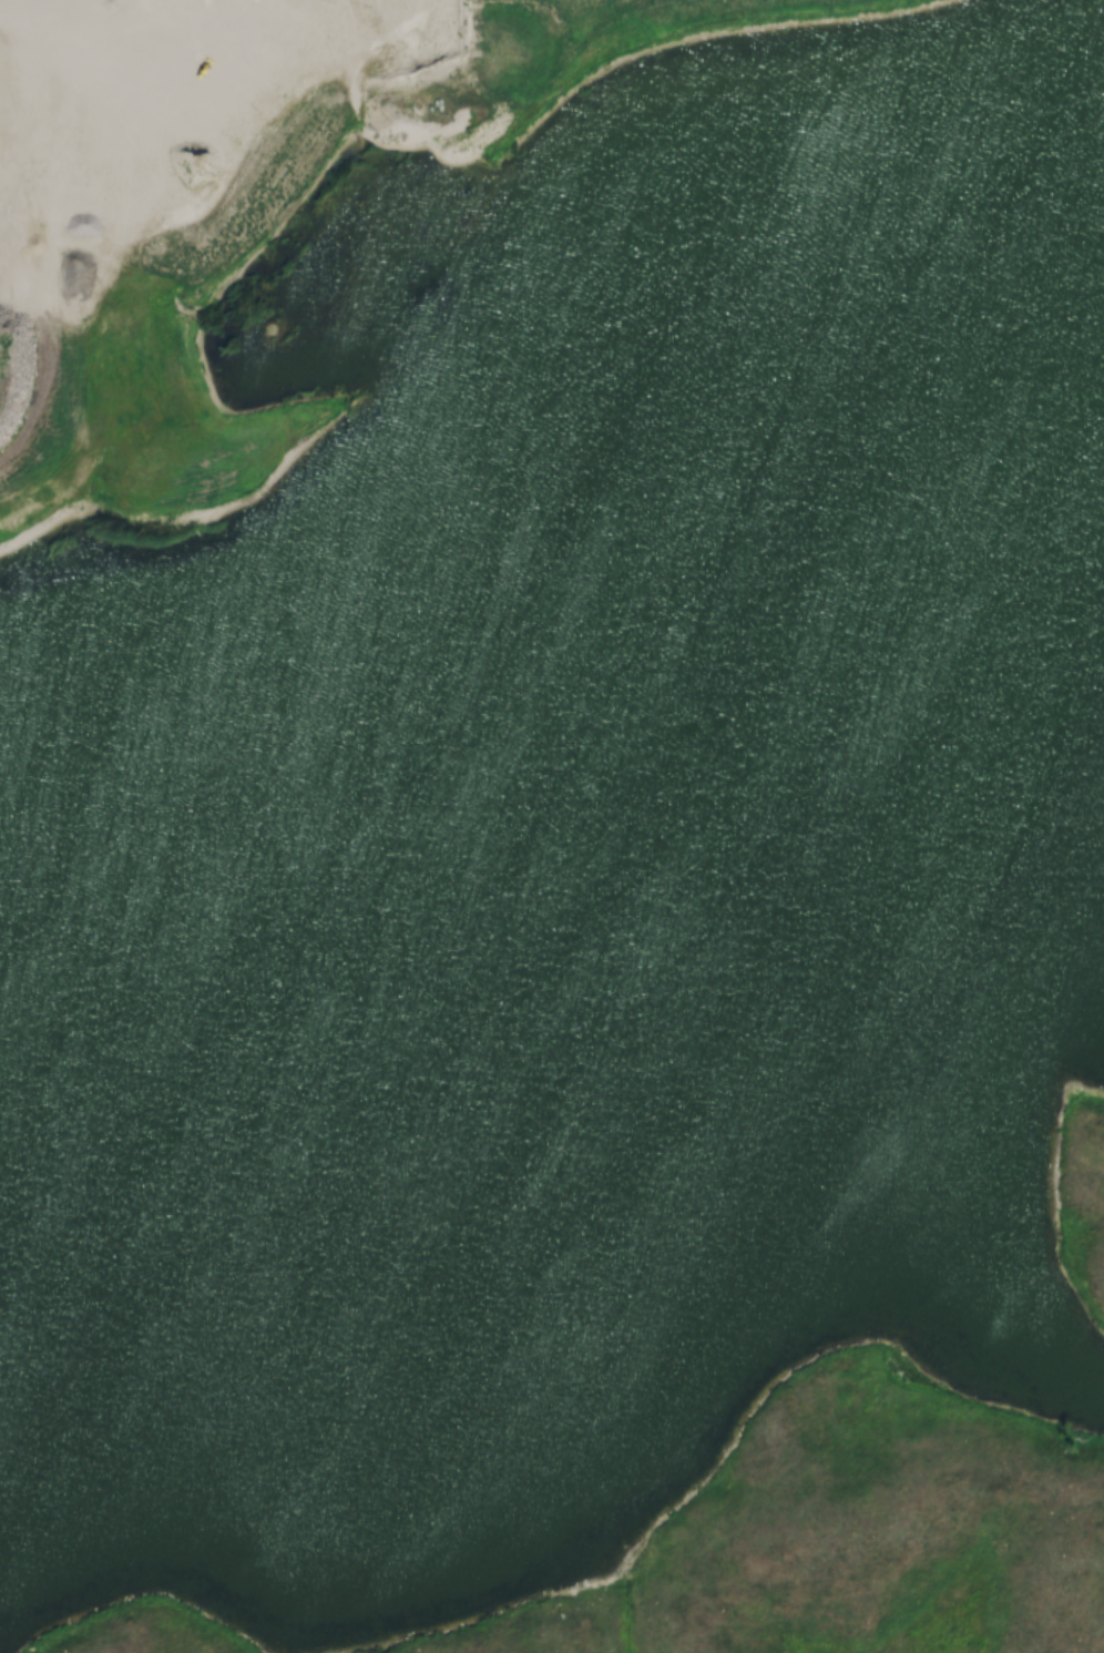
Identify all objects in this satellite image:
quarry: (182, 108)

